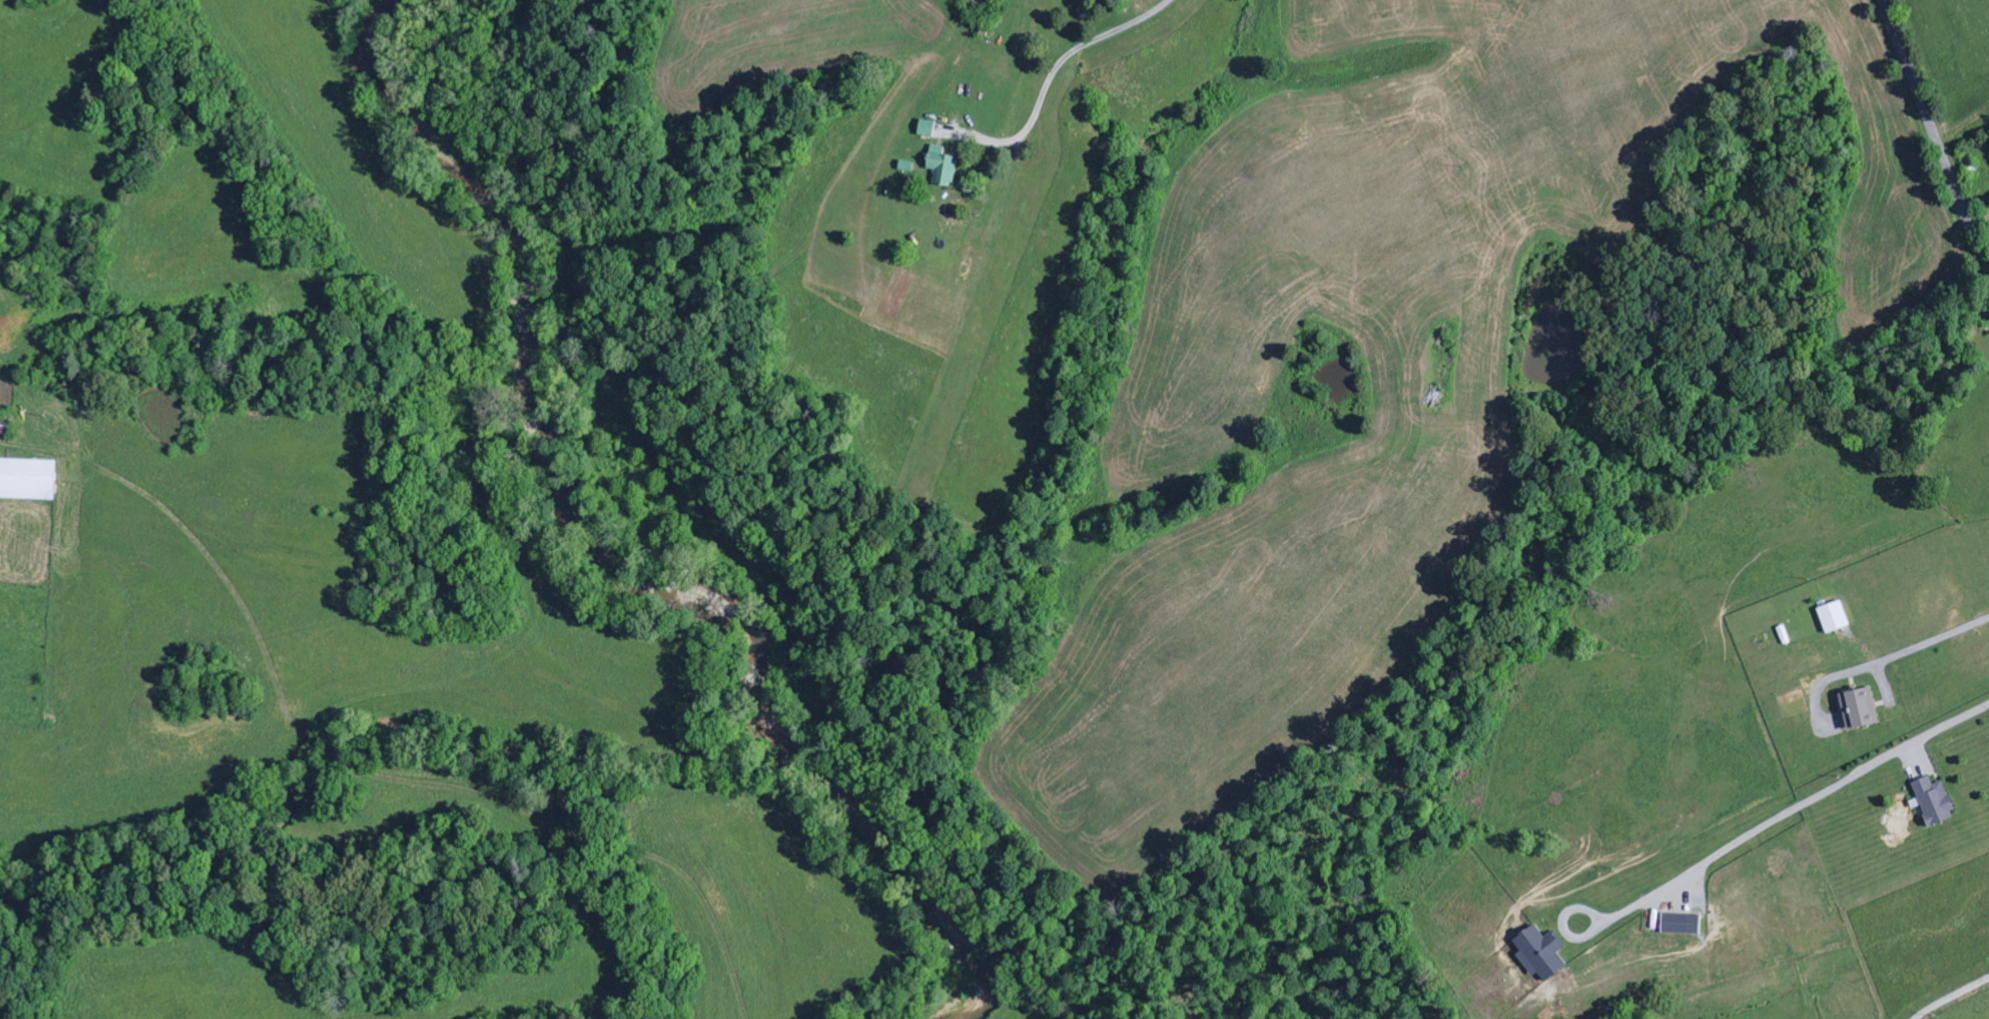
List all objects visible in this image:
road: (1075, 68)
building: (927, 129)
road: (1935, 135)
building: (943, 168)
building: (28, 480)
building: (1836, 617)
building: (1936, 801)
building: (1683, 924)
building: (1542, 954)

